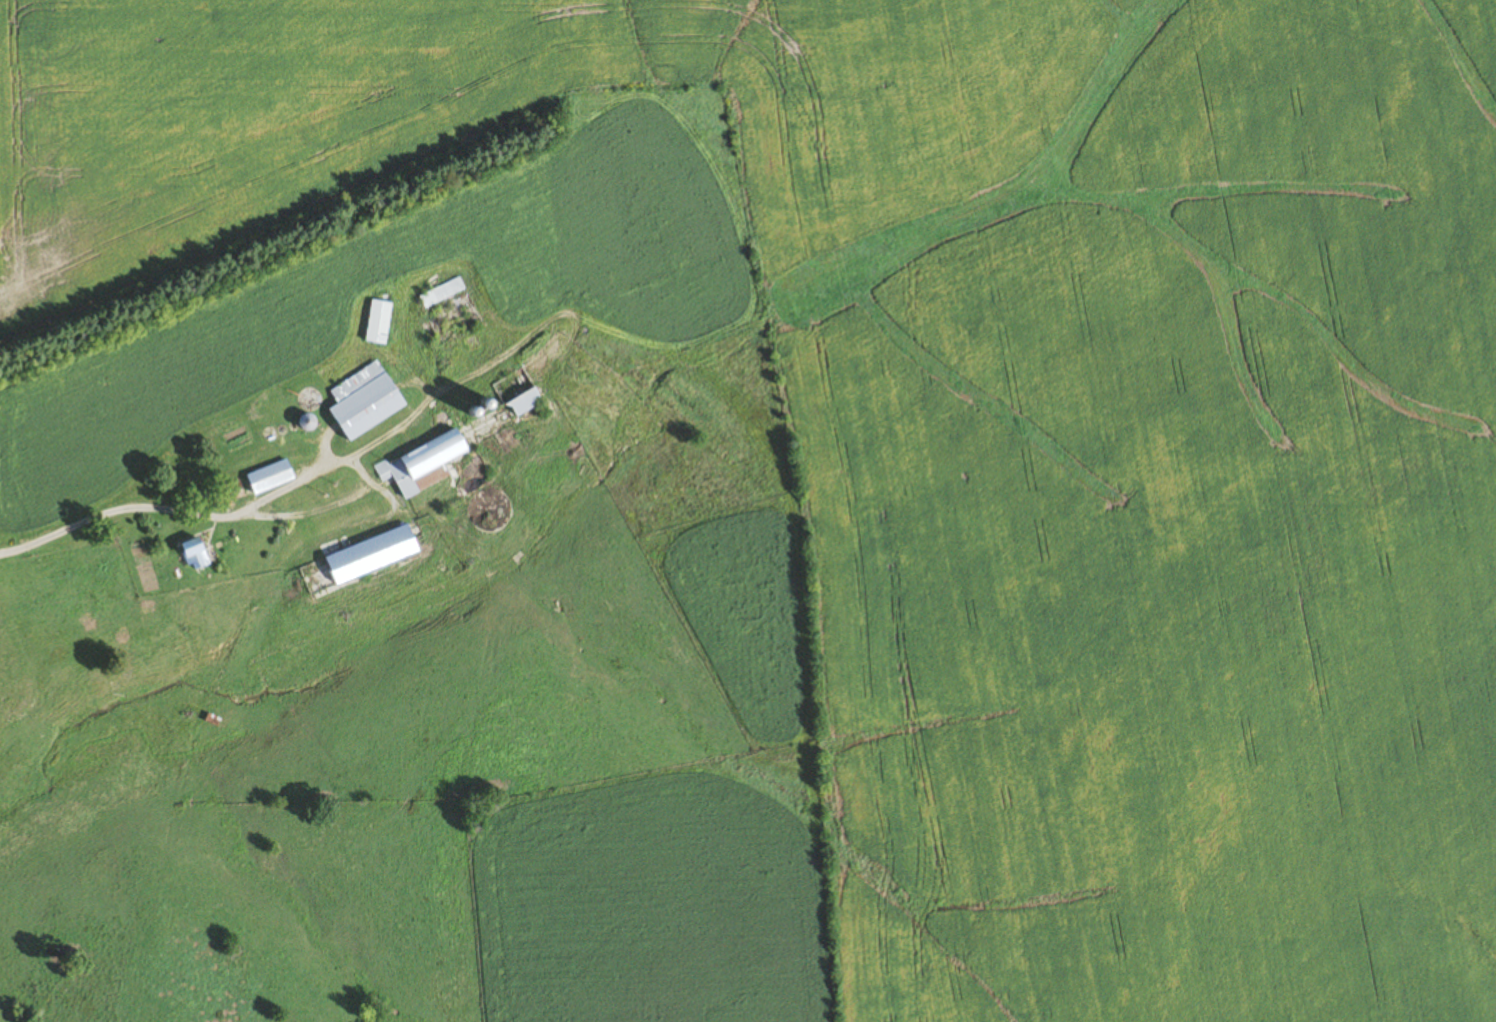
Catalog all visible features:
building: (444, 292)
building: (382, 322)
building: (523, 392)
building: (368, 400)
building: (426, 466)
road: (360, 473)
building: (272, 478)
road: (118, 509)
building: (198, 554)
building: (362, 558)

